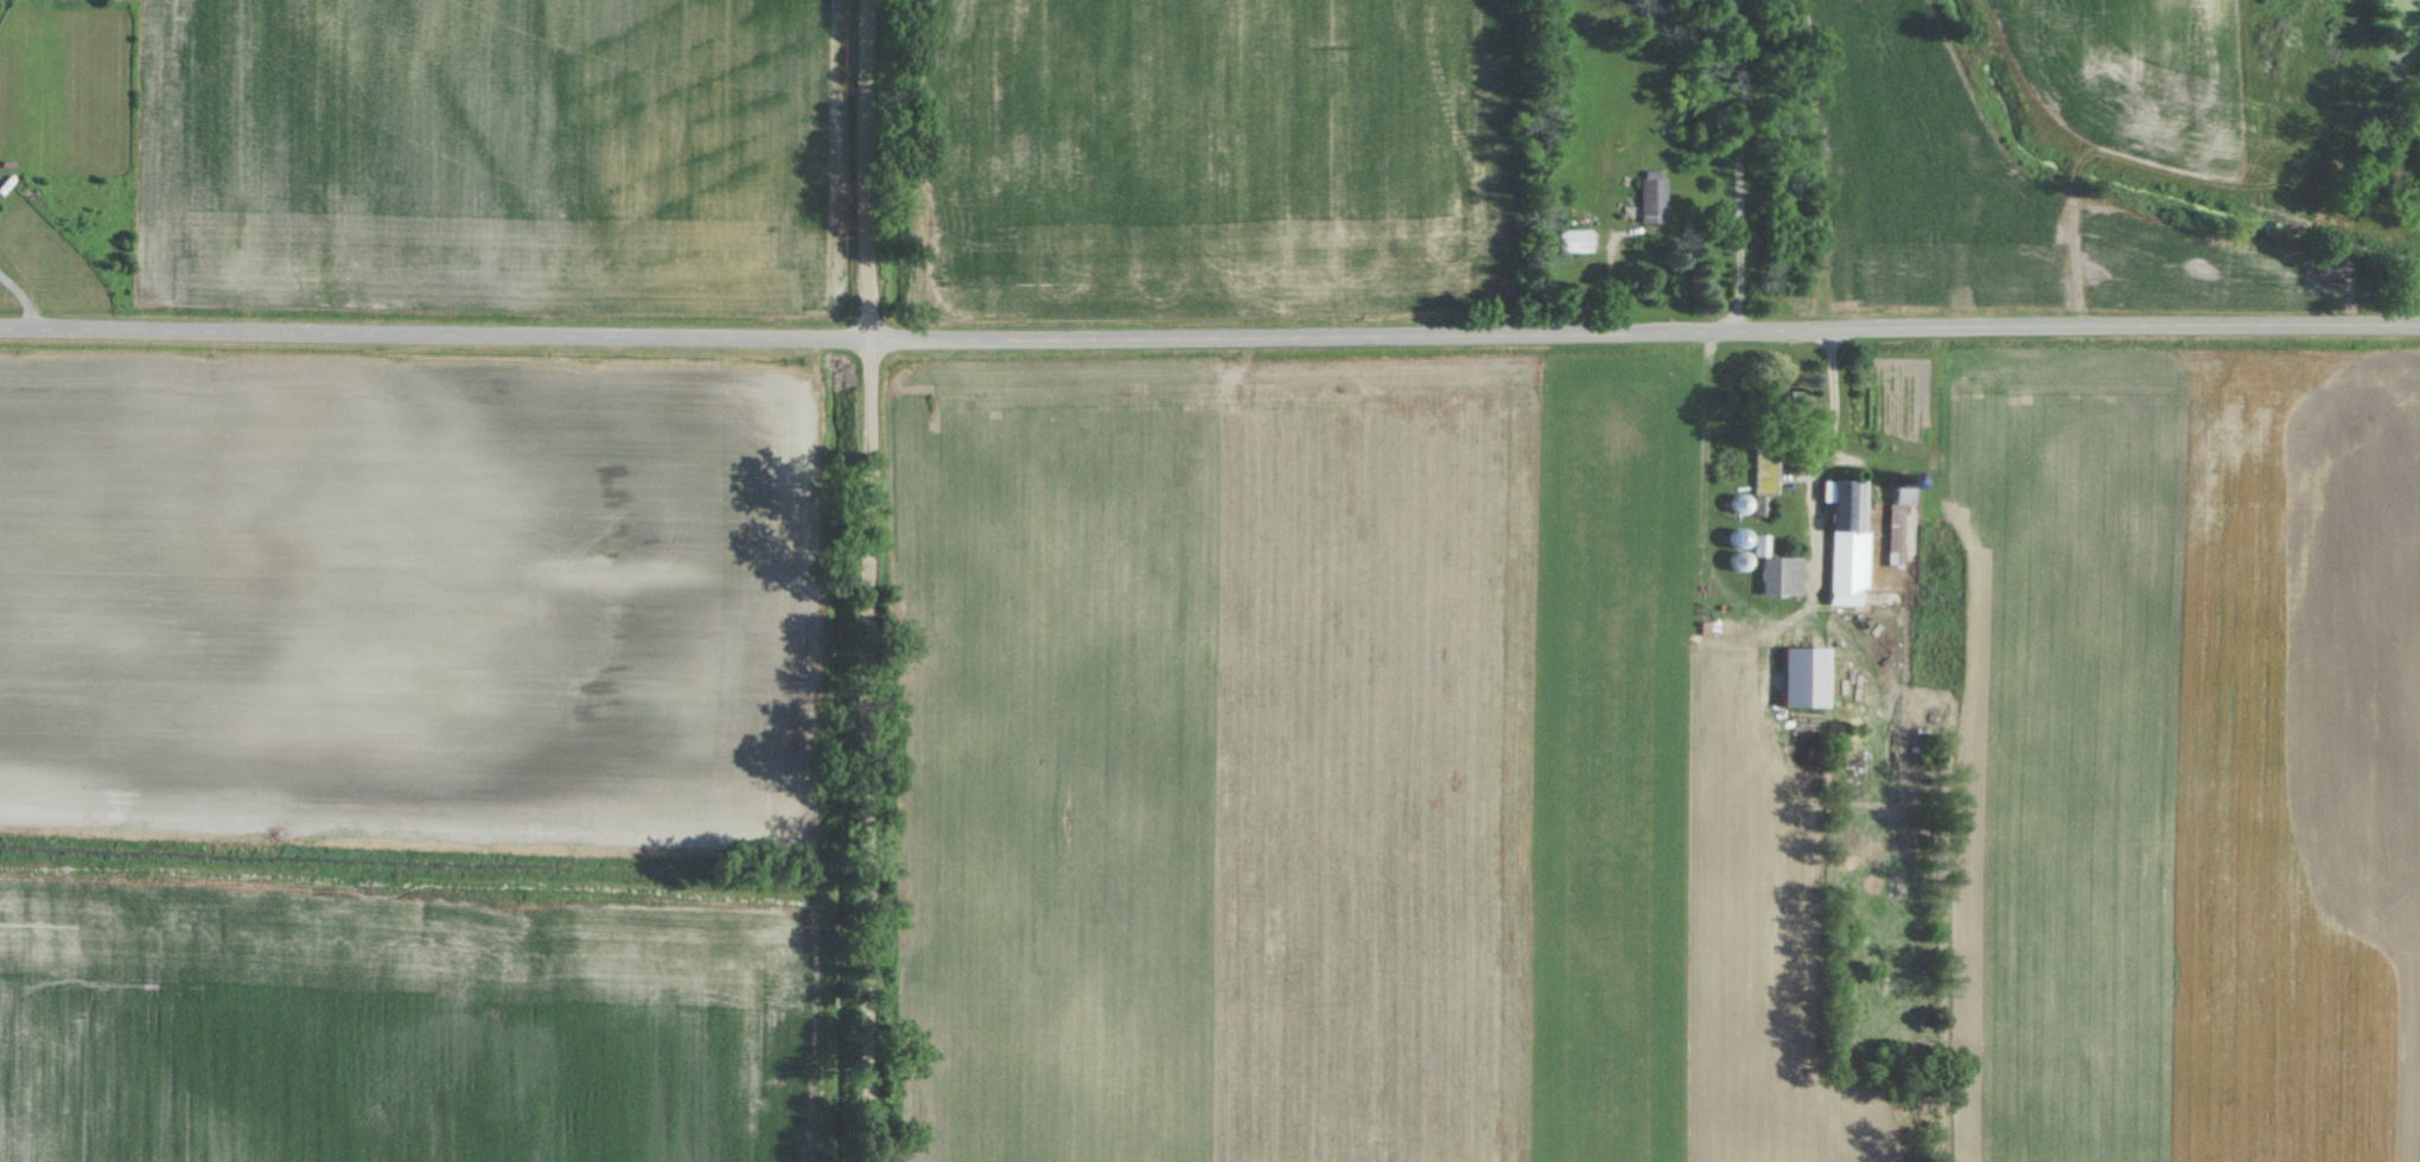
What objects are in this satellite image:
road: (1728, 164)
building: (1654, 197)
building: (1575, 241)
road: (18, 301)
road: (1209, 337)
road: (1830, 394)
building: (1852, 541)
building: (1781, 572)
road: (879, 580)
building: (1811, 676)

